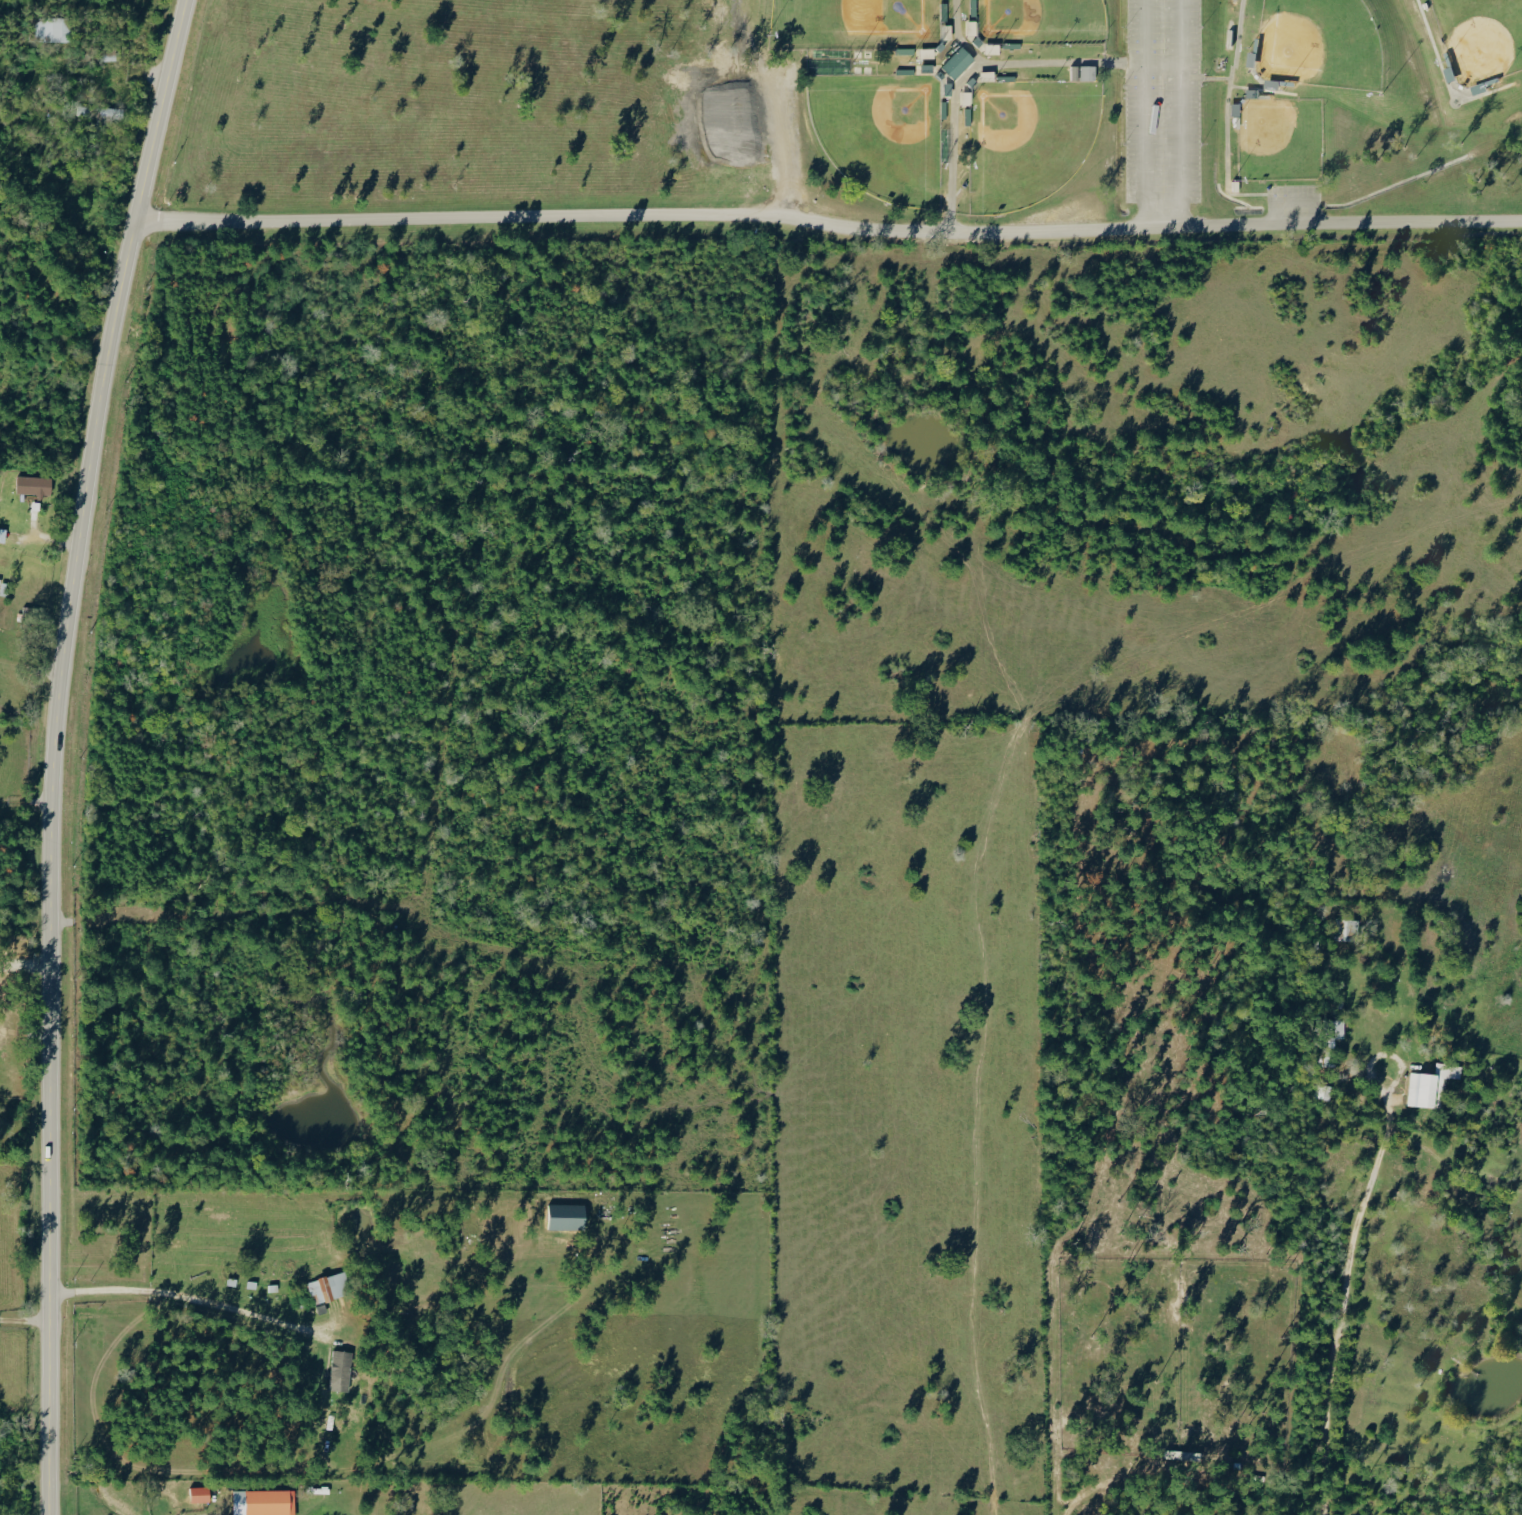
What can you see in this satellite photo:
building: (53, 30)
building: (947, 31)
road: (1144, 33)
road: (1180, 33)
building: (992, 48)
building: (958, 62)
road: (1161, 66)
building: (1084, 72)
building: (987, 75)
building: (1252, 92)
road: (829, 222)
building: (33, 485)
building: (2, 534)
road: (59, 751)
road: (27, 814)
road: (27, 959)
building: (1336, 1030)
building: (1430, 1086)
building: (566, 1217)
road: (1345, 1285)
building: (329, 1287)
road: (194, 1303)
road: (26, 1320)
building: (340, 1371)
building: (199, 1495)
building: (263, 1502)

